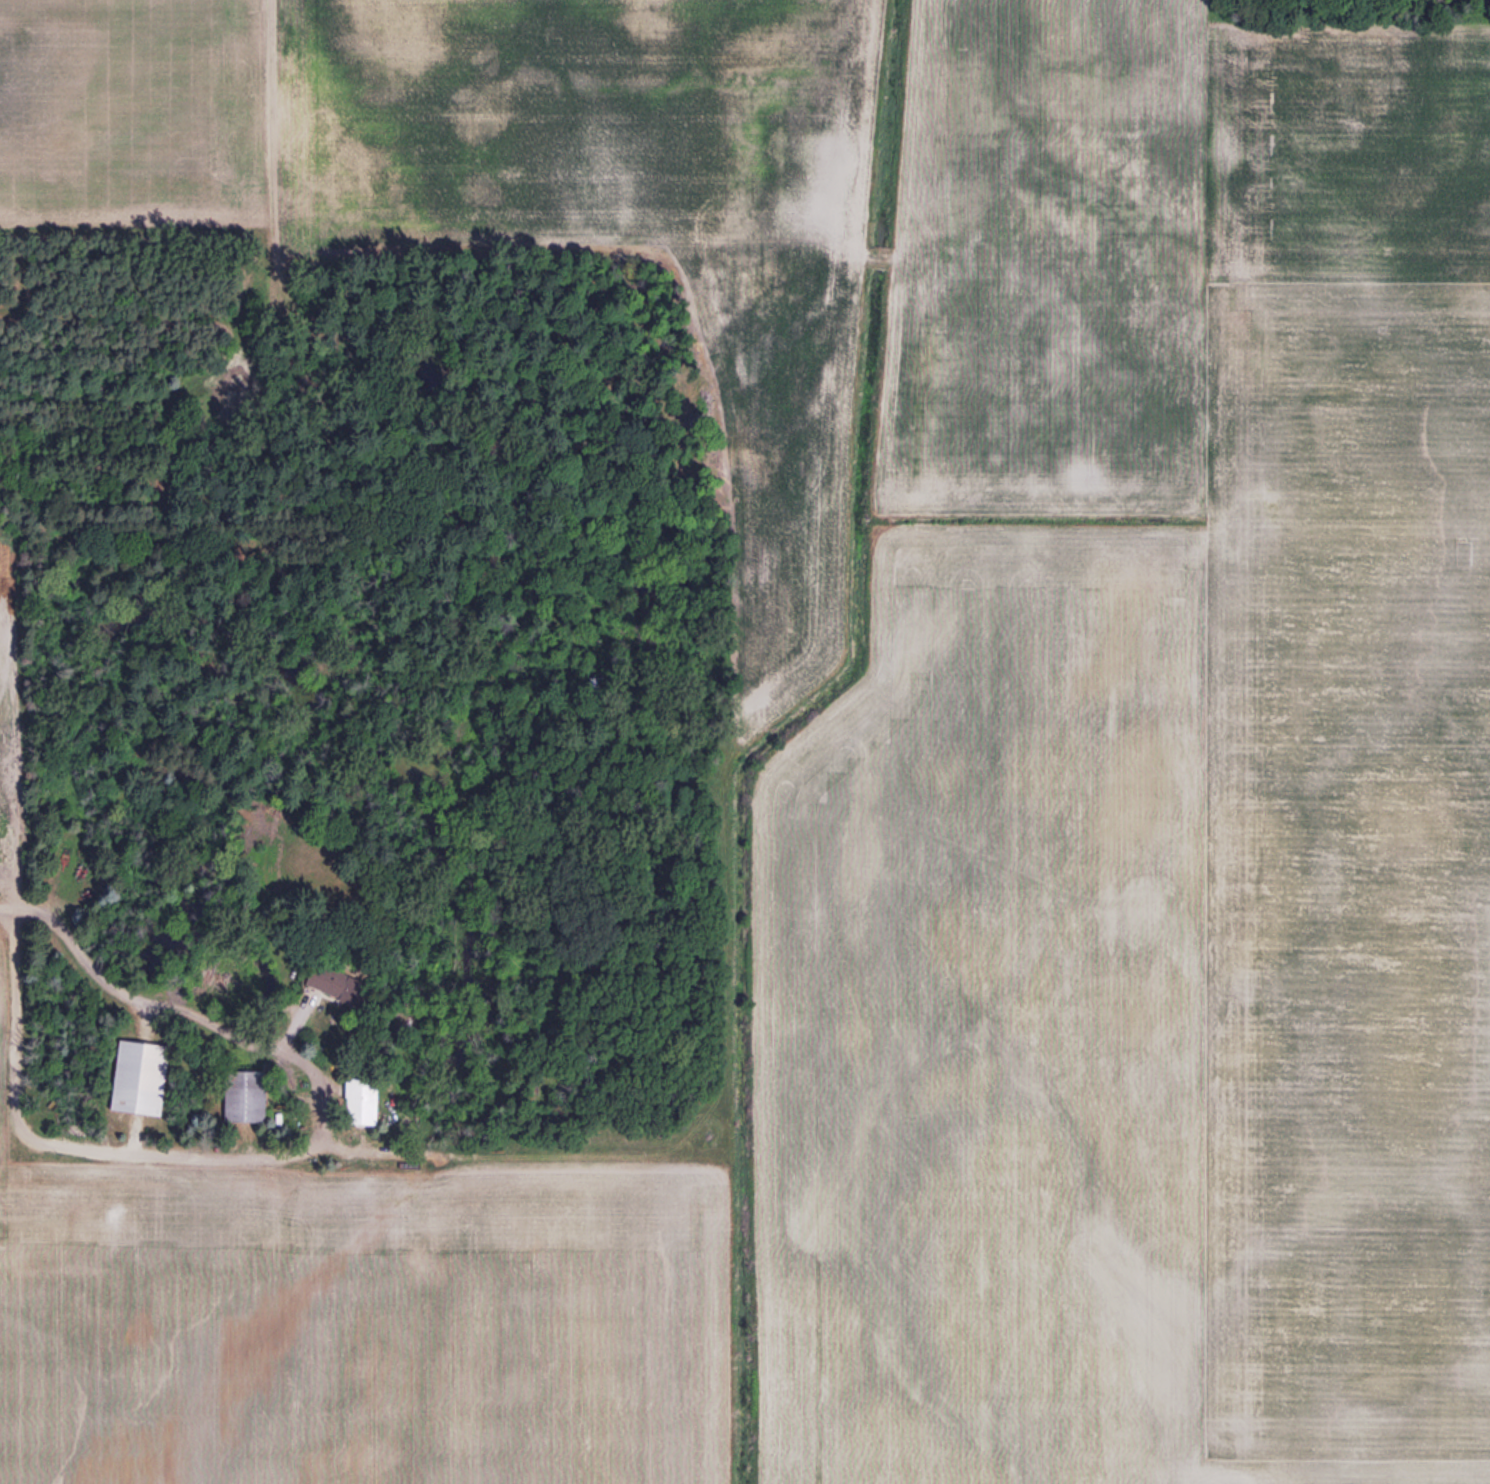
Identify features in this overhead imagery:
road: (7, 909)
building: (143, 1077)
building: (249, 1098)
building: (368, 1098)
road: (262, 1161)

